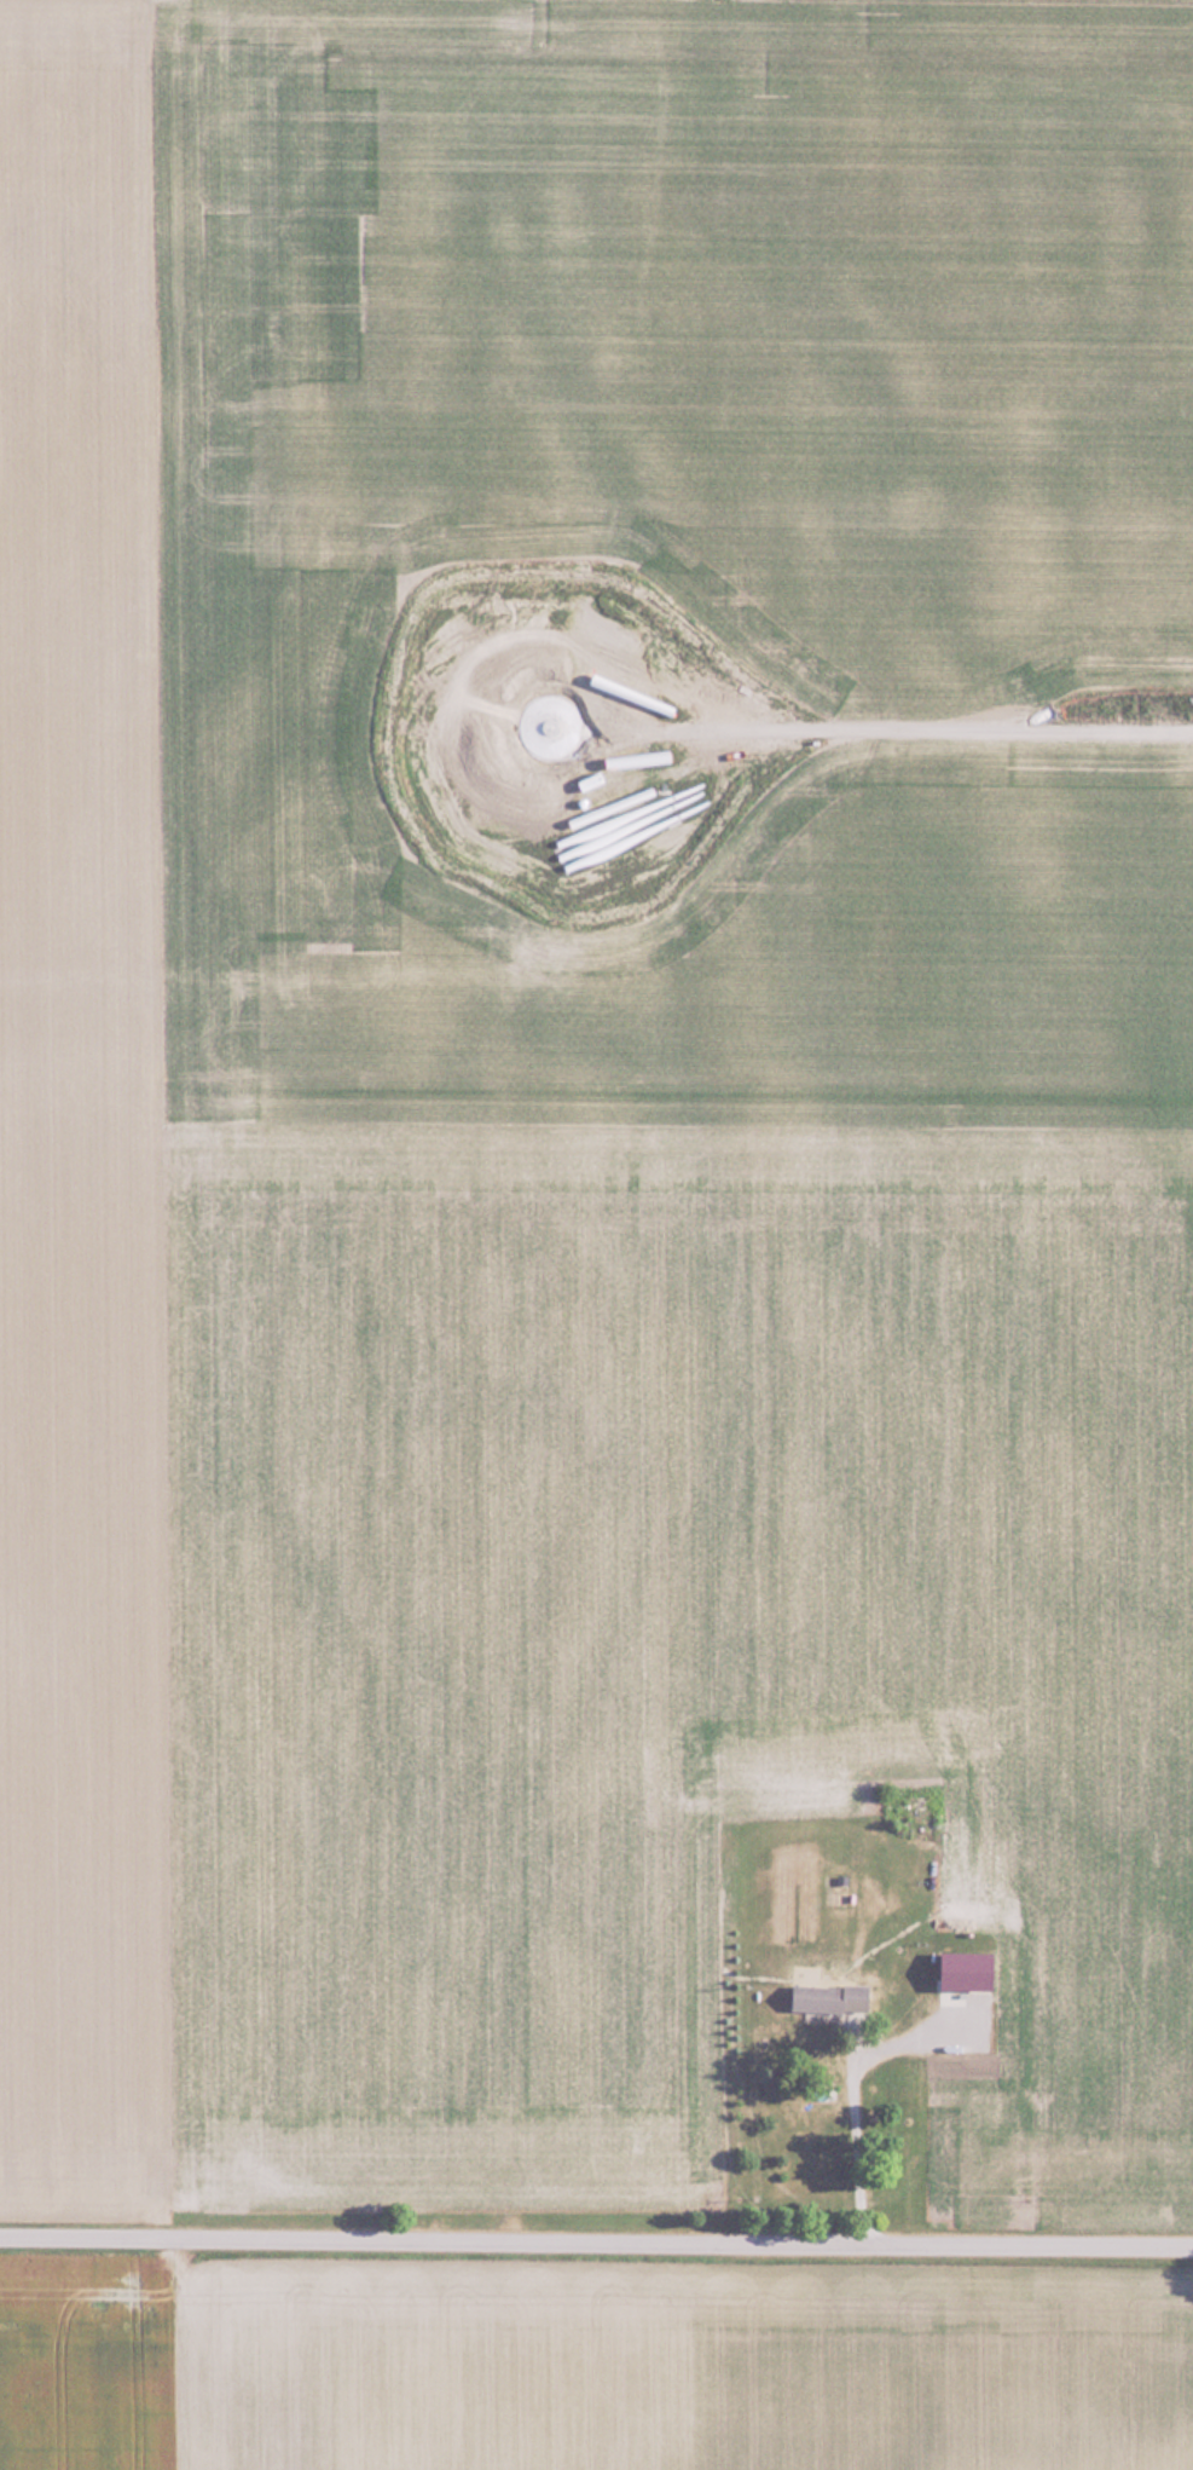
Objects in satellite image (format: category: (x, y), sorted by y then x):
wind turbine: (560, 731)
building: (832, 1997)
road: (851, 2082)
road: (596, 2246)

